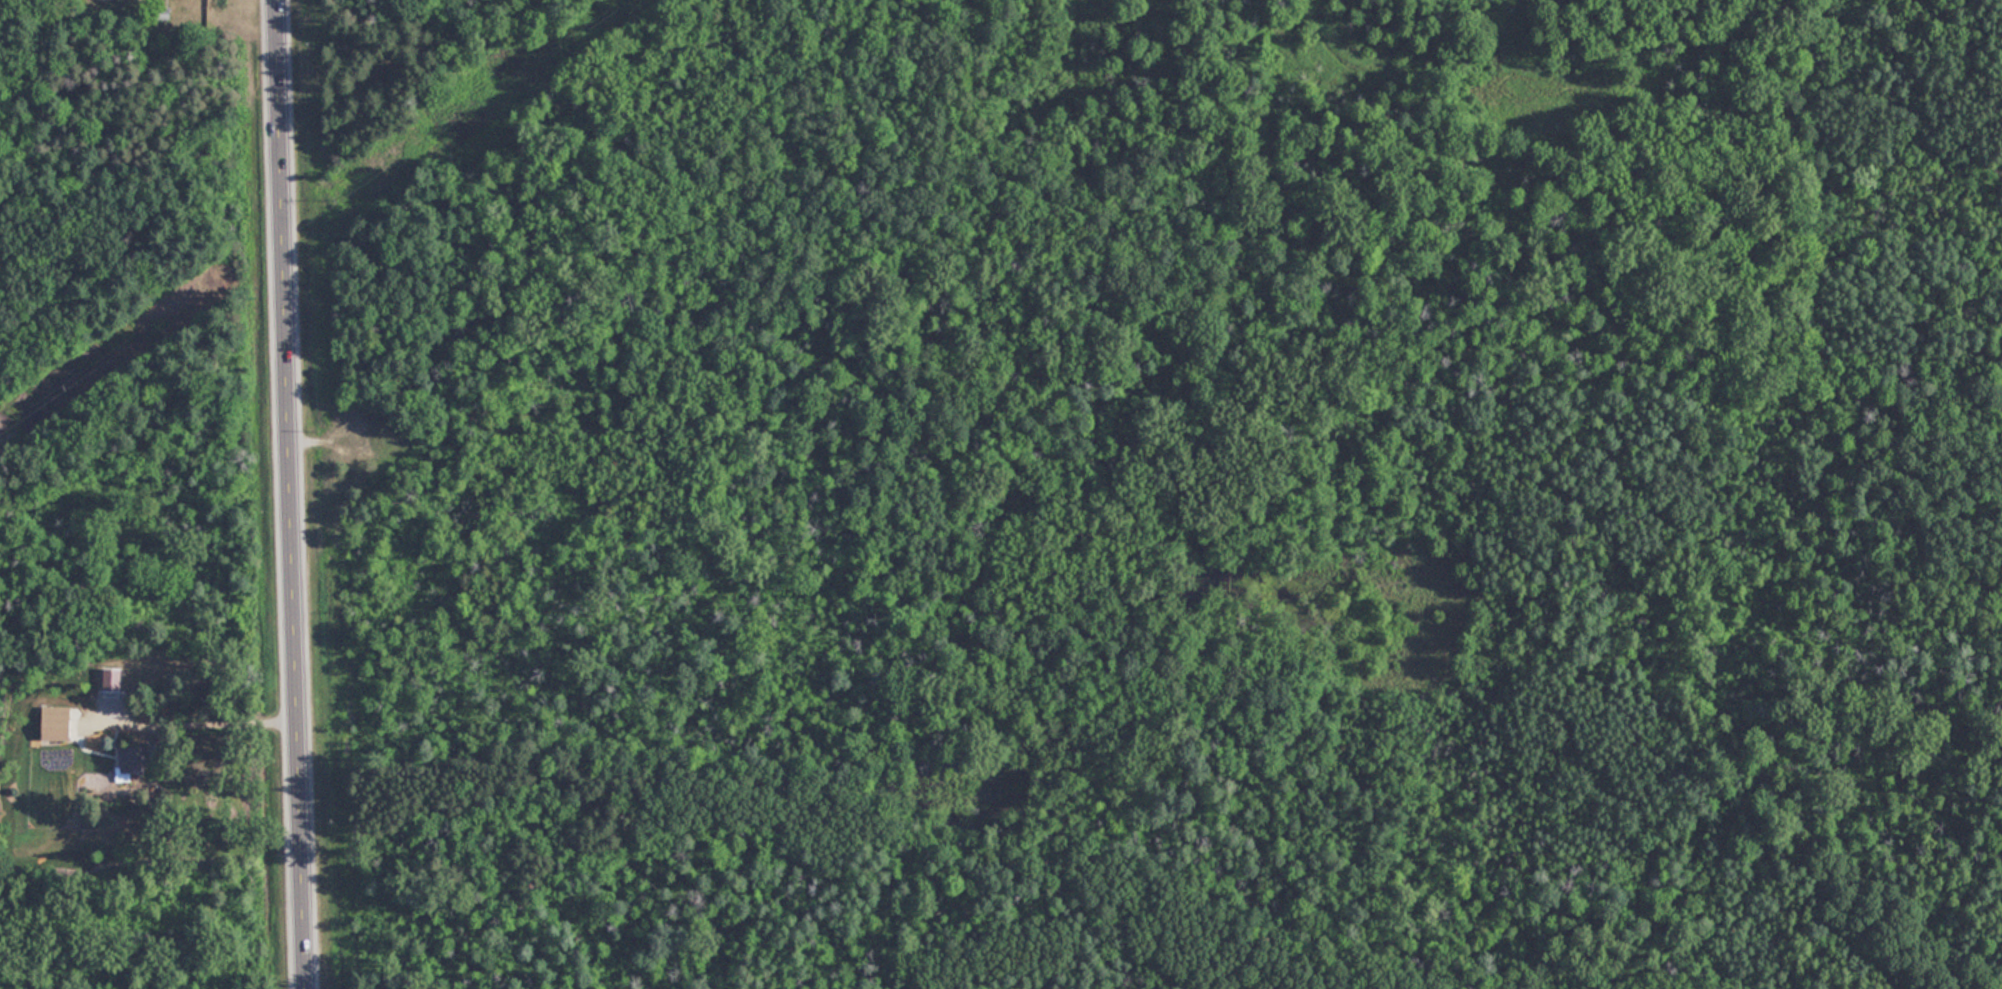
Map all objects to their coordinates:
road: (290, 494)
park: (1080, 503)
building: (58, 722)
road: (206, 722)
building: (132, 758)

